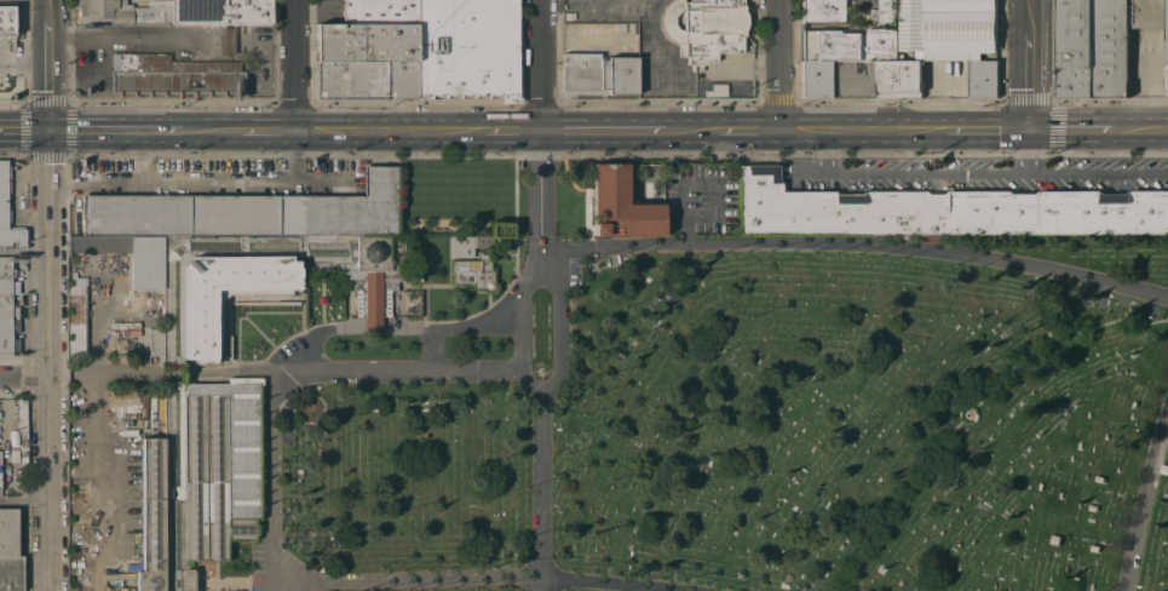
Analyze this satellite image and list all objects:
road: (1026, 5)
building: (122, 11)
building: (221, 11)
building: (380, 11)
building: (824, 11)
building: (885, 11)
building: (6, 22)
building: (706, 27)
building: (948, 27)
road: (115, 34)
building: (367, 41)
building: (850, 44)
building: (1101, 44)
building: (467, 48)
building: (915, 57)
road: (21, 62)
road: (293, 64)
road: (540, 64)
road: (781, 64)
road: (1026, 69)
building: (599, 73)
building: (174, 74)
building: (983, 78)
building: (367, 79)
building: (817, 79)
building: (899, 79)
building: (717, 90)
road: (988, 128)
traffic signals: (1026, 128)
road: (1068, 128)
road: (1139, 128)
road: (22, 130)
traffic signals: (44, 130)
road: (111, 130)
road: (390, 130)
road: (512, 130)
road: (602, 130)
road: (691, 130)
road: (750, 130)
road: (865, 130)
road: (211, 131)
road: (267, 131)
road: (1026, 151)
road: (824, 153)
parking lot: (213, 173)
parking lot: (973, 173)
road: (91, 176)
road: (214, 176)
road: (810, 176)
road: (996, 176)
road: (320, 177)
parking lot: (209, 179)
building: (4, 194)
parking lot: (695, 197)
road: (539, 203)
building: (621, 205)
building: (942, 210)
building: (251, 212)
building: (501, 229)
building: (464, 245)
road: (855, 248)
road: (22, 253)
building: (156, 257)
building: (476, 271)
road: (512, 276)
road: (527, 286)
road: (424, 291)
road: (44, 294)
road: (321, 304)
building: (6, 305)
building: (373, 306)
road: (346, 308)
road: (301, 315)
building: (76, 320)
building: (200, 320)
road: (373, 322)
road: (311, 327)
road: (455, 329)
road: (373, 331)
road: (98, 332)
road: (558, 335)
road: (318, 337)
building: (120, 344)
road: (270, 345)
road: (520, 349)
road: (436, 350)
road: (402, 371)
road: (138, 373)
road: (234, 373)
road: (69, 374)
road: (22, 375)
park: (608, 400)
road: (971, 407)
building: (22, 429)
building: (1164, 469)
building: (0, 478)
building: (1099, 478)
building: (198, 480)
road: (274, 481)
road: (540, 483)
road: (22, 499)
building: (1093, 507)
road: (1145, 507)
building: (1055, 539)
building: (1094, 547)
building: (10, 551)
parking lot: (257, 567)
road: (407, 580)
road: (612, 583)
road: (540, 584)

